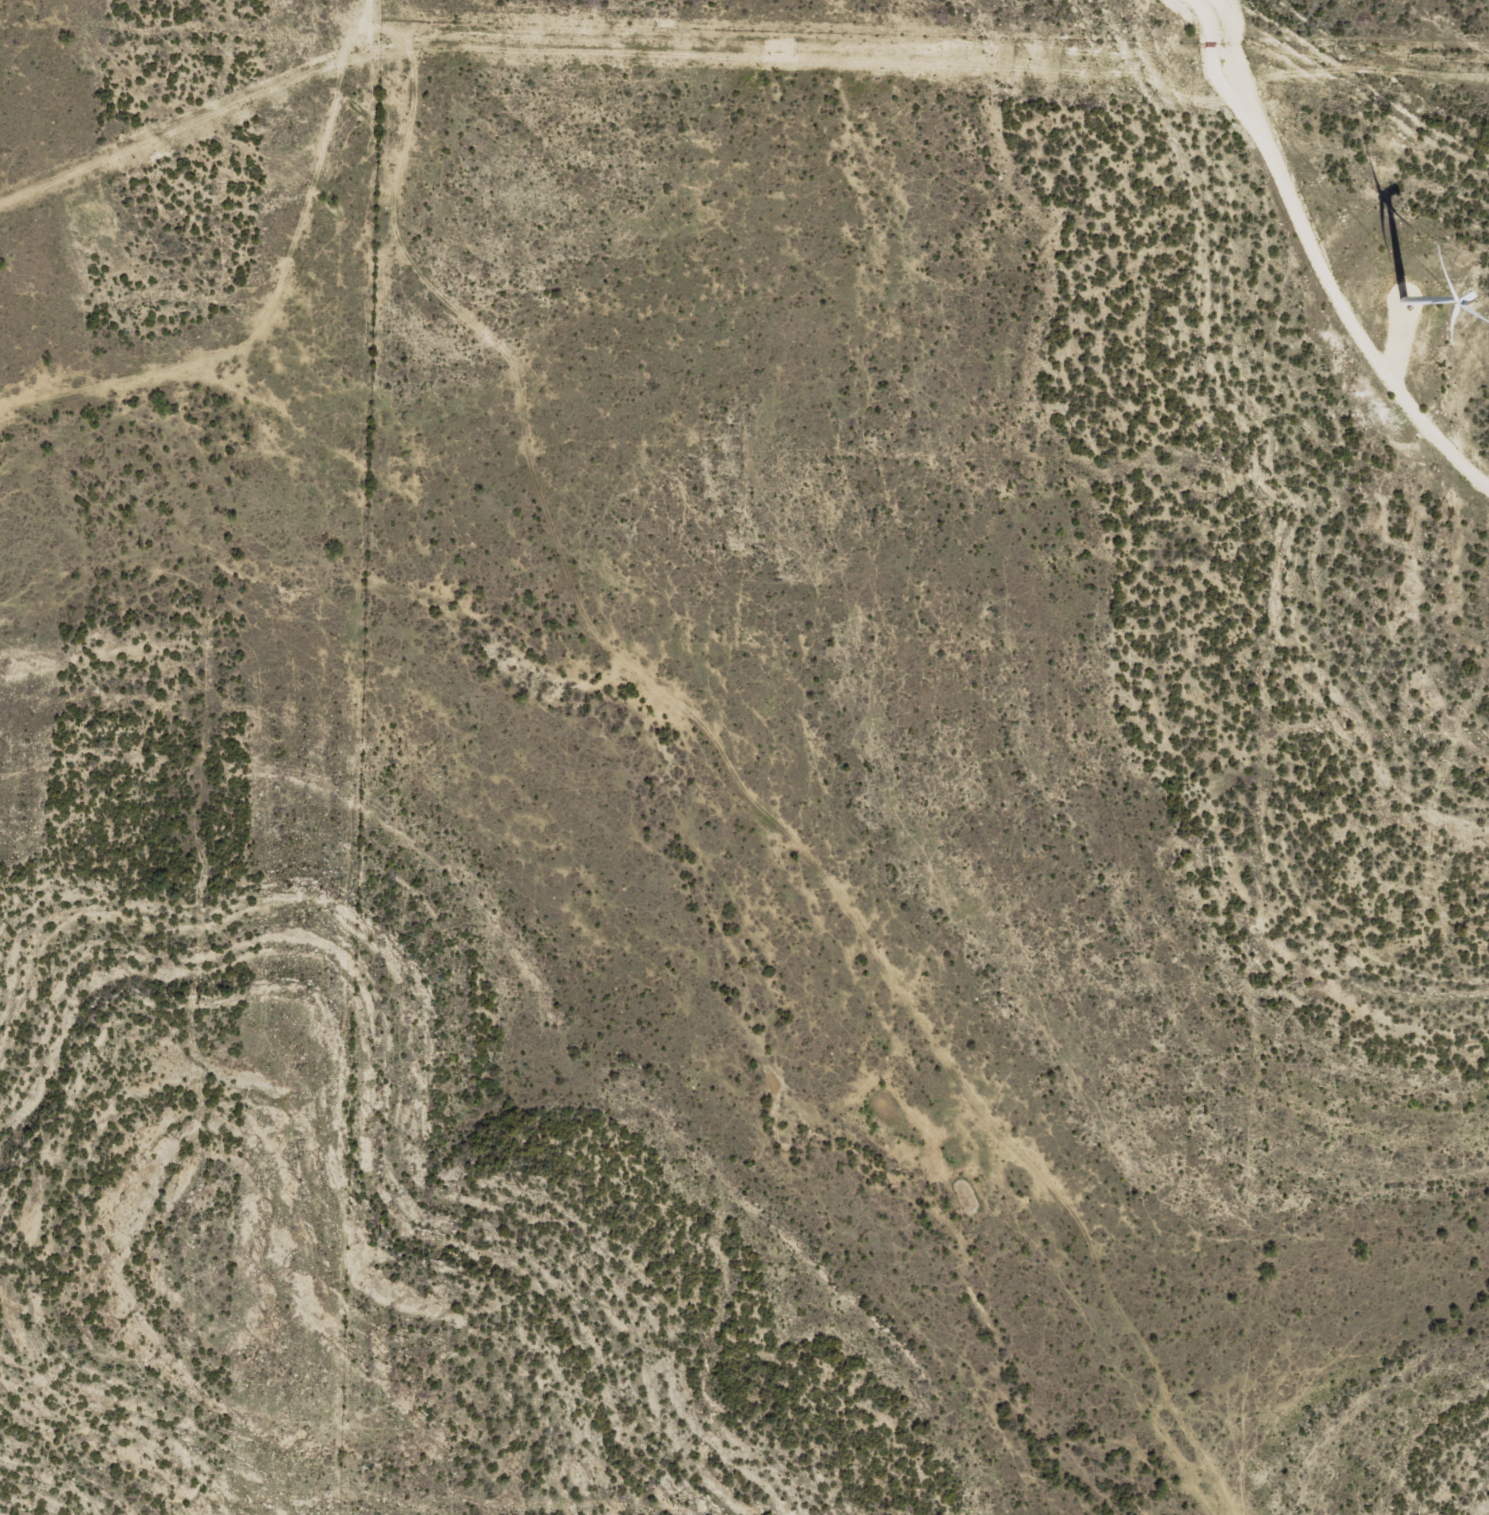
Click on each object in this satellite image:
road: (1317, 258)
wind turbine: (1402, 298)
road: (583, 543)

